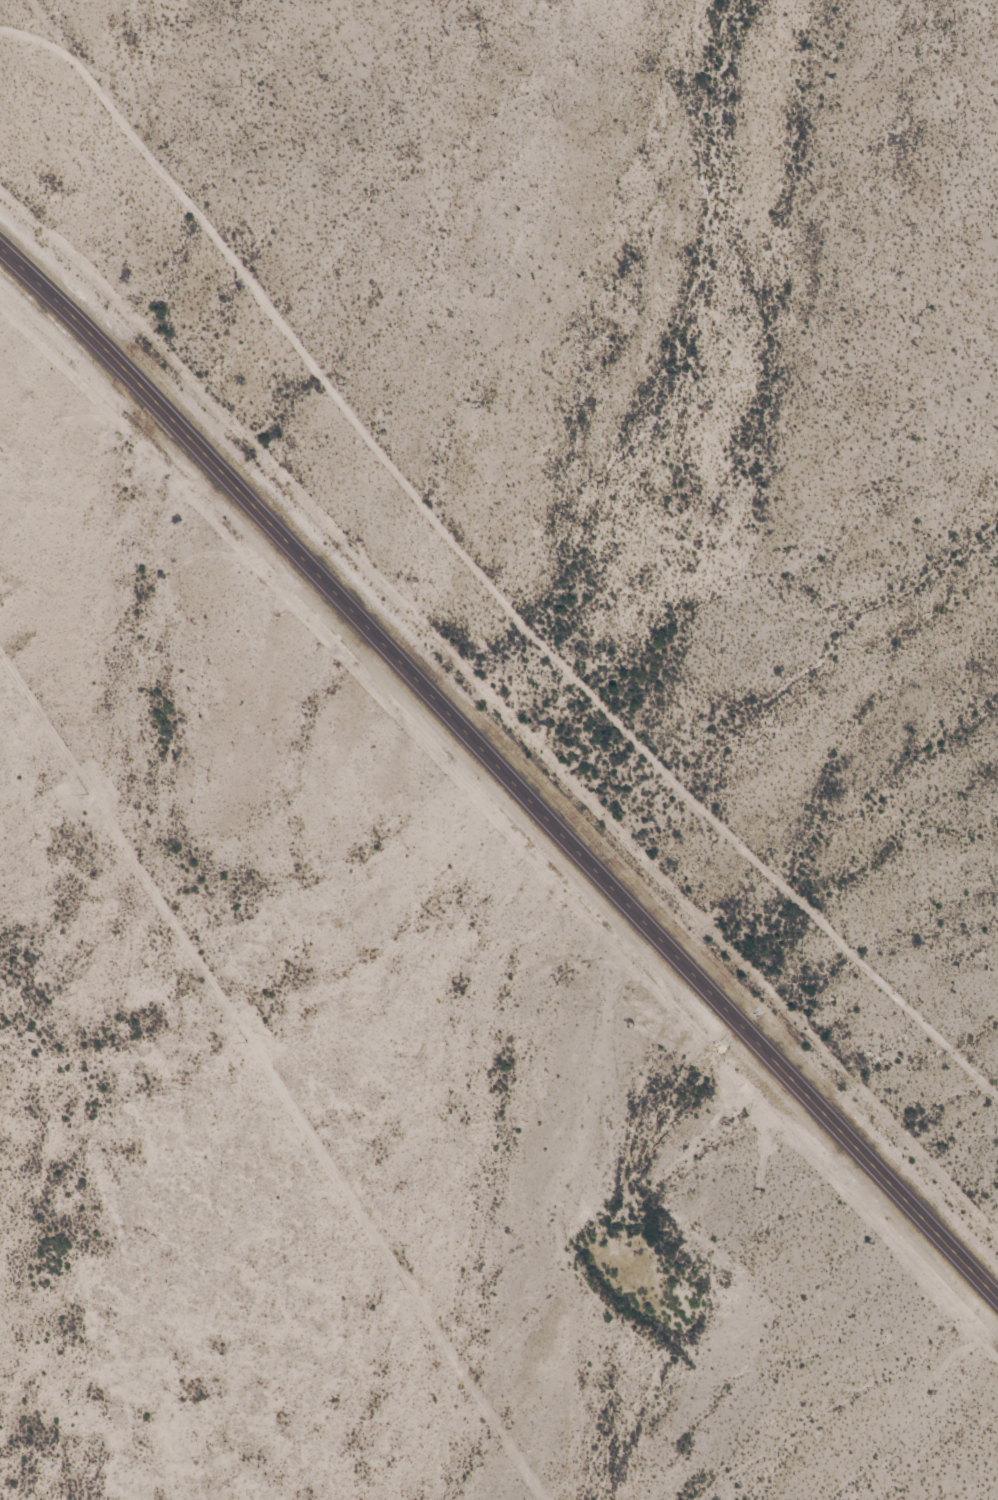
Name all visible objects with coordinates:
road: (502, 765)

